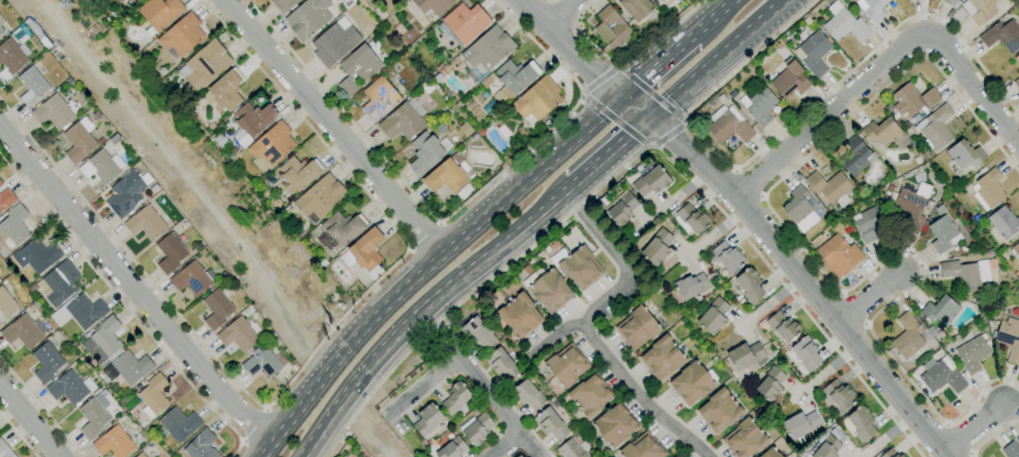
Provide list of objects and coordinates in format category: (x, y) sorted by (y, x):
building: (119, 0)
building: (121, 0)
road: (551, 0)
building: (135, 1)
building: (665, 2)
building: (950, 2)
building: (283, 5)
building: (432, 5)
building: (636, 8)
building: (871, 8)
building: (979, 10)
building: (380, 12)
road: (556, 12)
building: (160, 13)
road: (712, 17)
building: (308, 18)
building: (1, 21)
building: (844, 23)
building: (463, 24)
building: (612, 28)
building: (1, 30)
building: (181, 36)
building: (1002, 36)
building: (335, 42)
building: (813, 52)
building: (486, 53)
building: (12, 55)
road: (715, 58)
building: (1017, 58)
road: (625, 63)
building: (205, 65)
road: (657, 65)
road: (885, 66)
road: (614, 67)
road: (618, 67)
building: (358, 68)
building: (515, 77)
road: (599, 79)
building: (789, 79)
building: (486, 82)
building: (1017, 83)
building: (32, 85)
building: (224, 91)
road: (583, 91)
road: (651, 94)
road: (583, 96)
building: (379, 98)
building: (537, 100)
building: (913, 100)
building: (759, 105)
building: (53, 112)
building: (254, 118)
road: (685, 121)
road: (618, 122)
building: (401, 123)
road: (790, 123)
road: (685, 125)
building: (728, 125)
road: (332, 127)
building: (936, 127)
building: (466, 129)
building: (882, 131)
road: (667, 136)
building: (114, 139)
building: (79, 140)
building: (271, 146)
road: (652, 147)
road: (610, 151)
building: (427, 152)
road: (634, 156)
building: (856, 156)
building: (963, 156)
building: (101, 166)
road: (735, 170)
building: (299, 173)
building: (446, 175)
park: (189, 176)
building: (650, 180)
building: (1, 183)
road: (747, 185)
building: (829, 188)
building: (989, 188)
road: (561, 193)
building: (125, 194)
road: (762, 197)
building: (6, 198)
building: (320, 198)
building: (621, 207)
building: (800, 209)
building: (910, 209)
road: (747, 214)
road: (451, 215)
building: (692, 218)
building: (1003, 222)
building: (145, 223)
building: (869, 223)
building: (343, 227)
building: (13, 229)
building: (943, 234)
road: (424, 236)
building: (657, 247)
building: (1016, 249)
building: (364, 251)
building: (170, 253)
building: (37, 255)
building: (839, 255)
building: (727, 257)
road: (430, 265)
building: (578, 266)
road: (816, 266)
building: (962, 275)
building: (192, 279)
building: (59, 283)
building: (749, 285)
road: (135, 286)
building: (691, 286)
building: (547, 288)
road: (618, 289)
road: (841, 294)
road: (869, 297)
road: (125, 304)
building: (6, 305)
building: (216, 309)
road: (851, 310)
building: (940, 310)
building: (79, 311)
building: (520, 314)
building: (713, 316)
road: (412, 317)
power tower: (323, 324)
road: (866, 324)
building: (782, 326)
building: (637, 328)
building: (24, 331)
building: (477, 333)
building: (239, 334)
building: (908, 336)
building: (1009, 338)
building: (105, 339)
building: (806, 353)
building: (973, 353)
building: (745, 355)
road: (309, 357)
building: (662, 358)
building: (46, 362)
building: (263, 362)
building: (501, 364)
building: (565, 365)
building: (127, 367)
building: (940, 377)
road: (477, 383)
building: (692, 383)
building: (770, 384)
building: (69, 387)
road: (426, 389)
building: (154, 393)
building: (528, 394)
building: (839, 394)
road: (637, 395)
building: (589, 396)
building: (456, 398)
road: (41, 406)
road: (265, 409)
building: (719, 410)
building: (92, 418)
building: (428, 420)
road: (28, 422)
building: (550, 423)
building: (861, 423)
building: (178, 424)
building: (801, 424)
road: (947, 424)
building: (614, 425)
road: (367, 426)
road: (255, 427)
road: (973, 427)
building: (476, 428)
road: (18, 434)
road: (992, 434)
building: (745, 438)
road: (958, 440)
road: (242, 442)
building: (114, 443)
building: (201, 445)
road: (502, 445)
building: (826, 446)
building: (641, 447)
building: (452, 448)
building: (571, 449)
building: (5, 450)
building: (1011, 450)
building: (771, 453)
building: (890, 453)
road: (972, 454)
building: (140, 455)
building: (517, 456)
building: (519, 456)
building: (673, 456)

